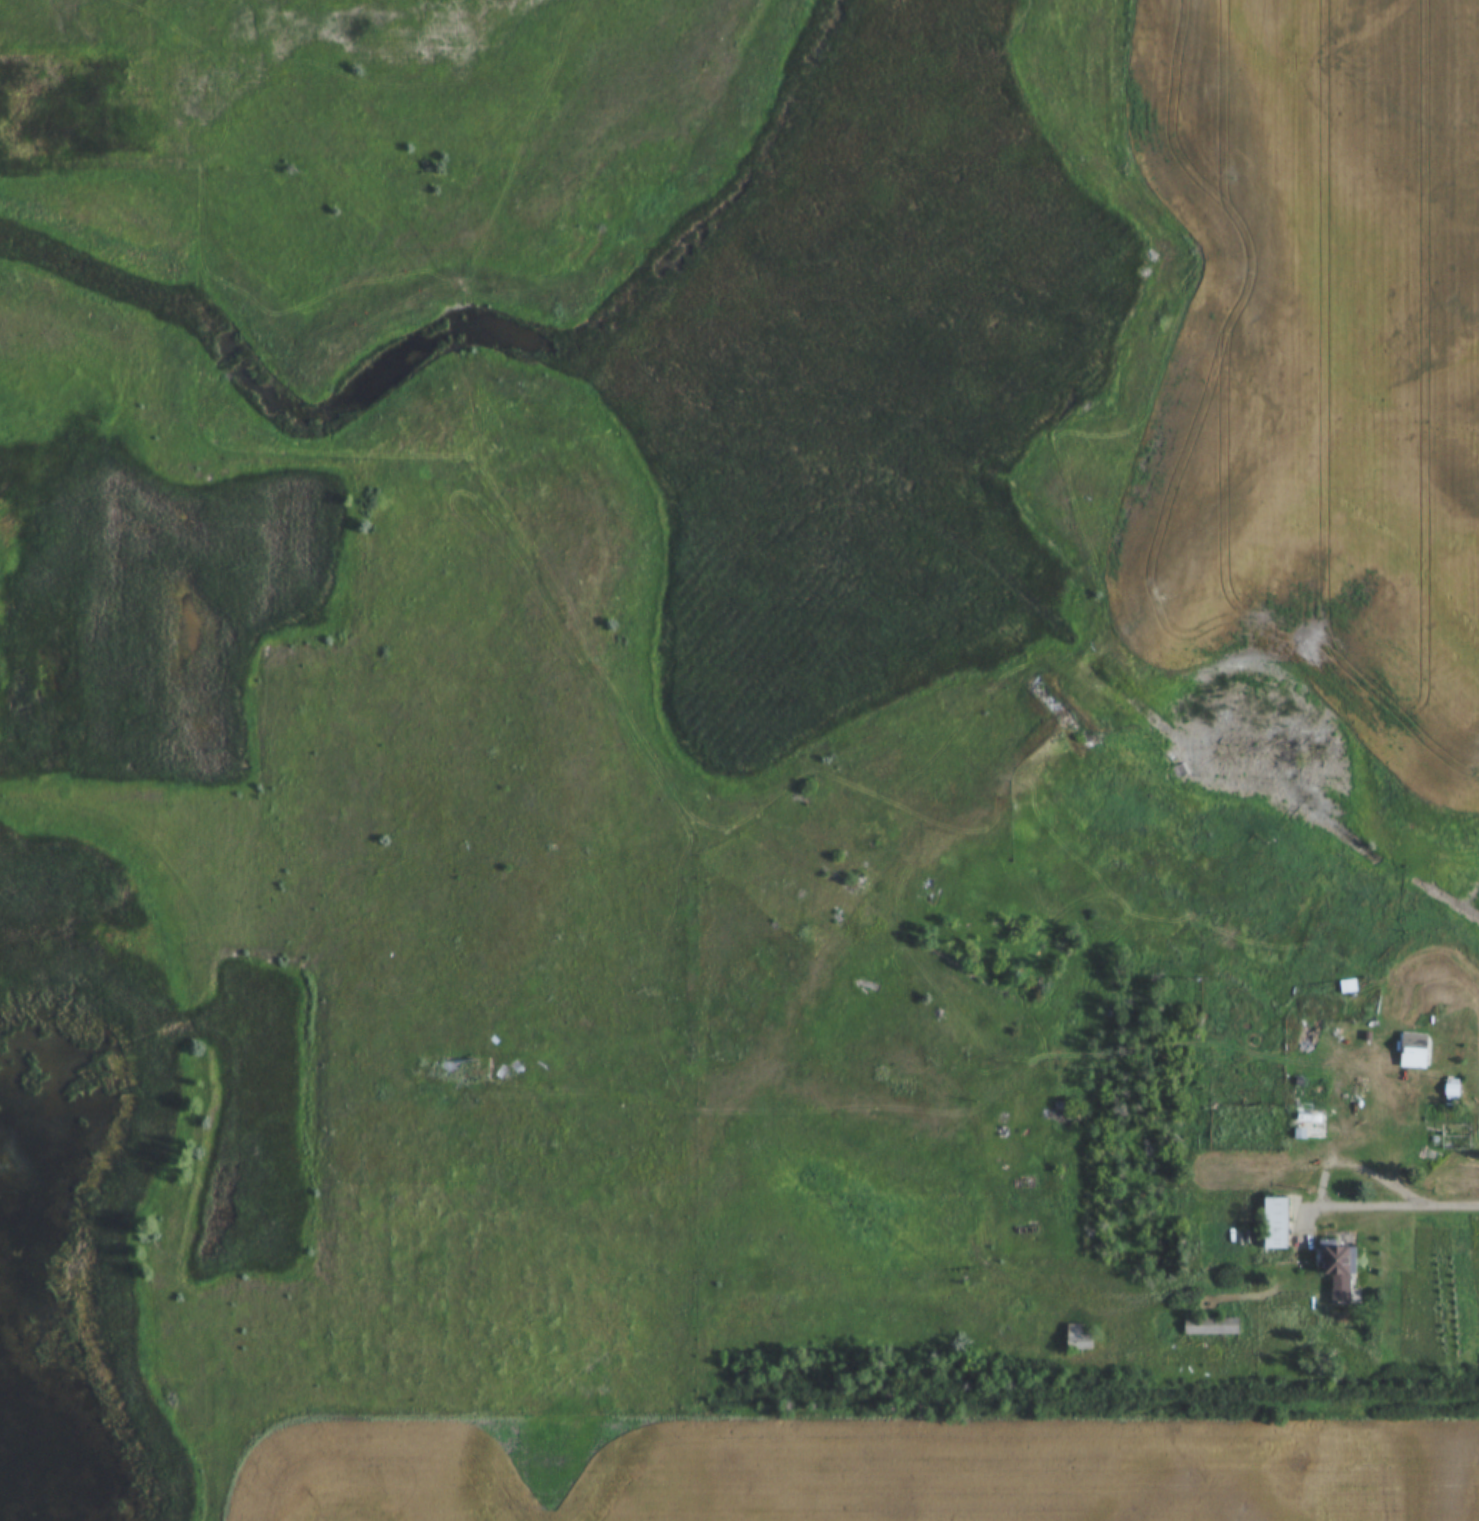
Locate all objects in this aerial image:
building: (1413, 1051)
building: (454, 1071)
road: (1323, 1185)
road: (1453, 1207)
building: (1275, 1223)
building: (1338, 1268)
building: (1211, 1326)
building: (1077, 1338)

